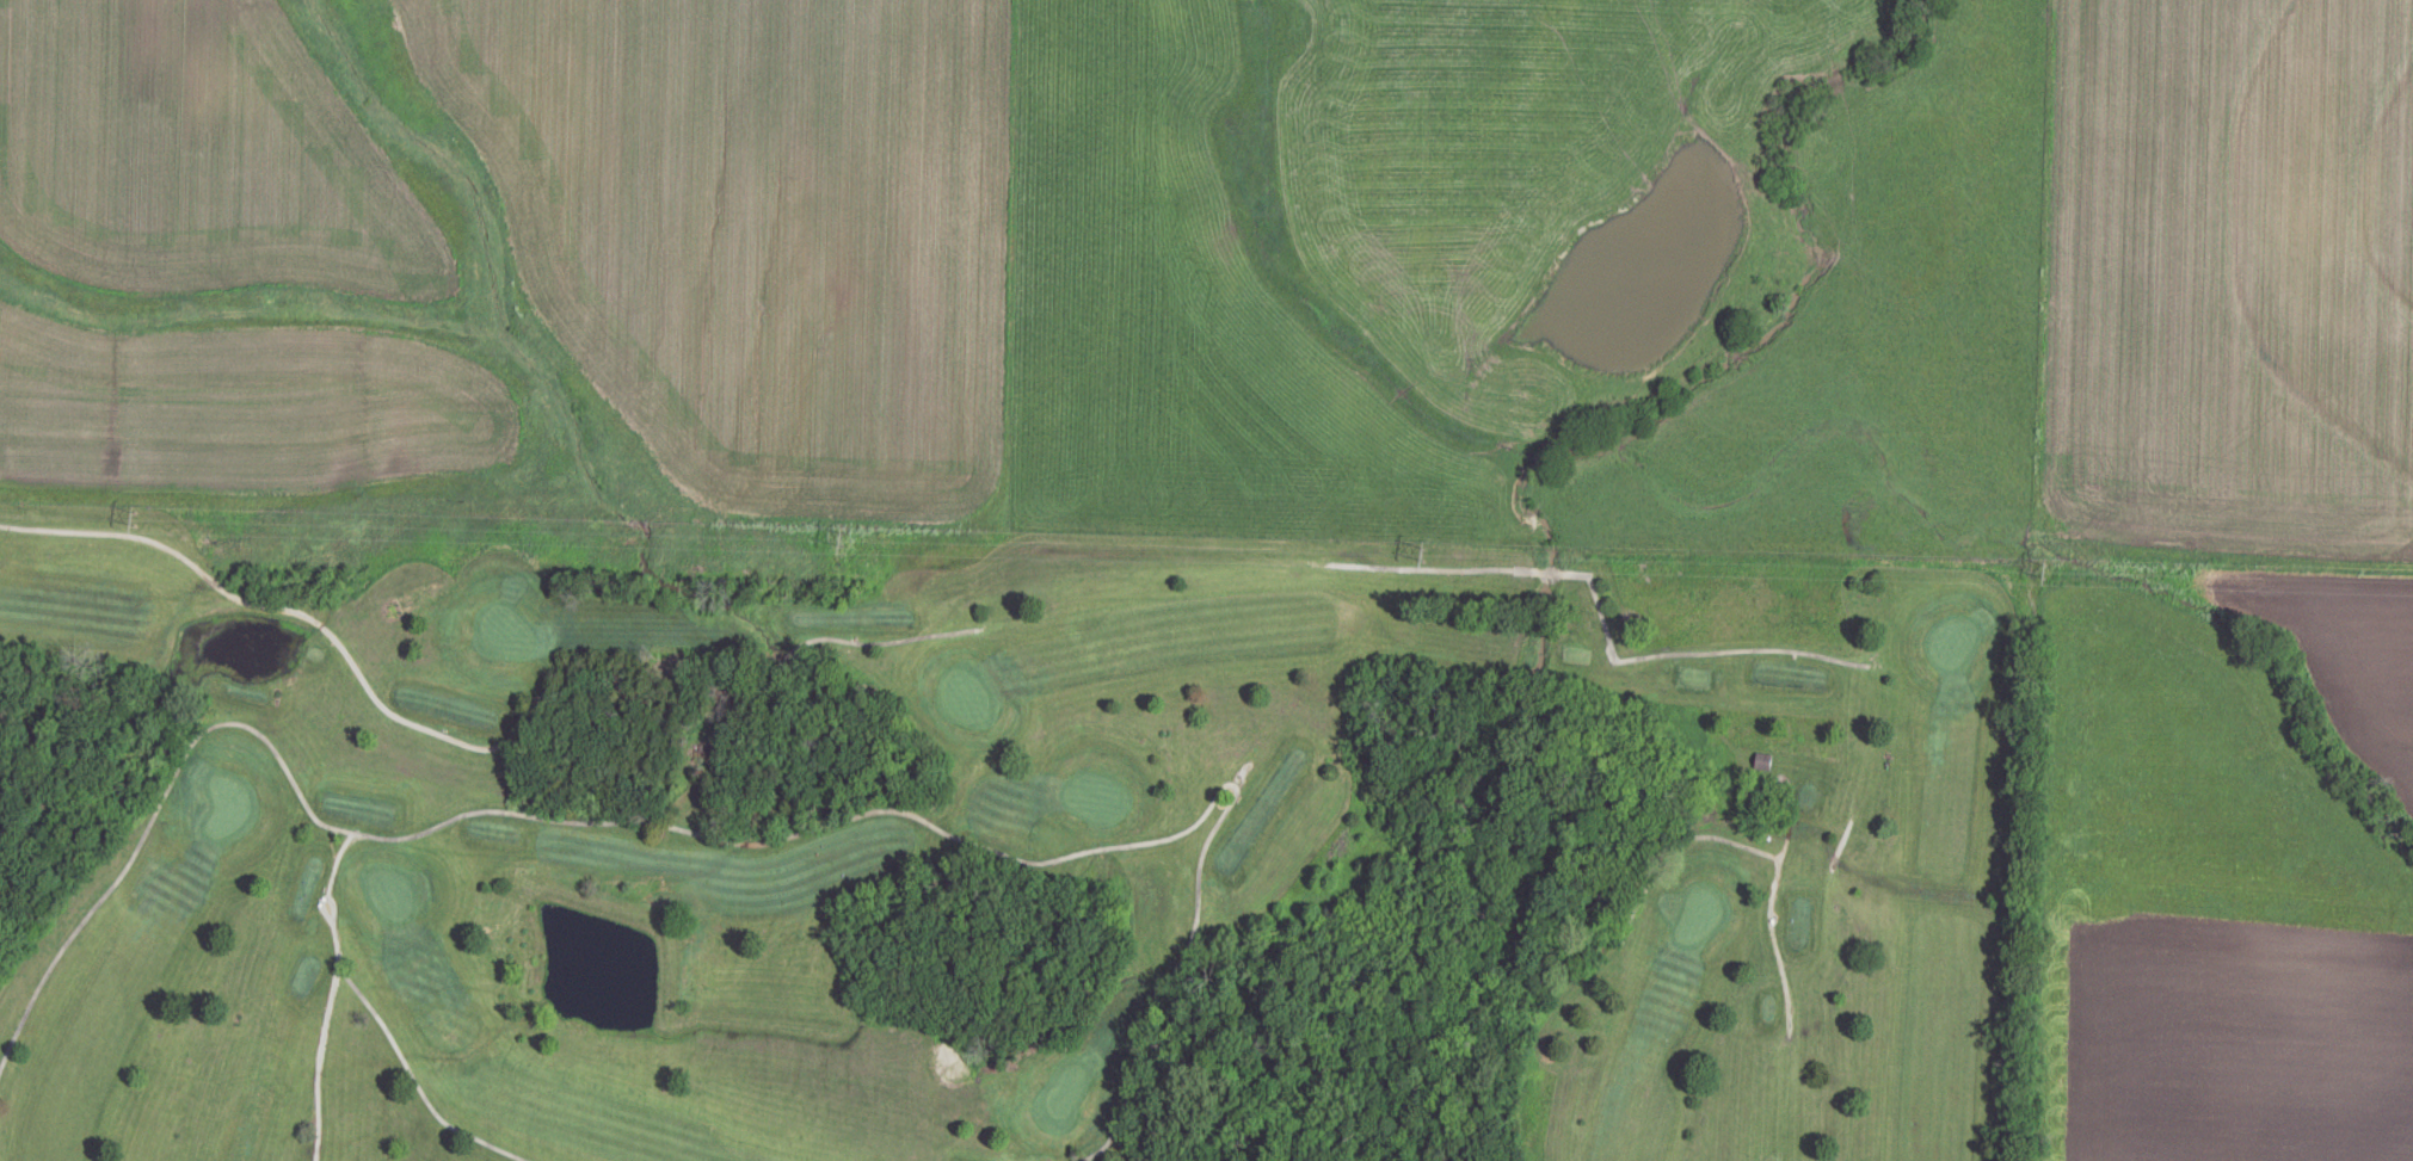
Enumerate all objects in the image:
crop: (513, 259)
crop: (2227, 282)
power tower: (140, 520)
power tower: (847, 549)
power tower: (1429, 560)
power tower: (2049, 576)
park: (999, 845)
crop: (2215, 1048)

